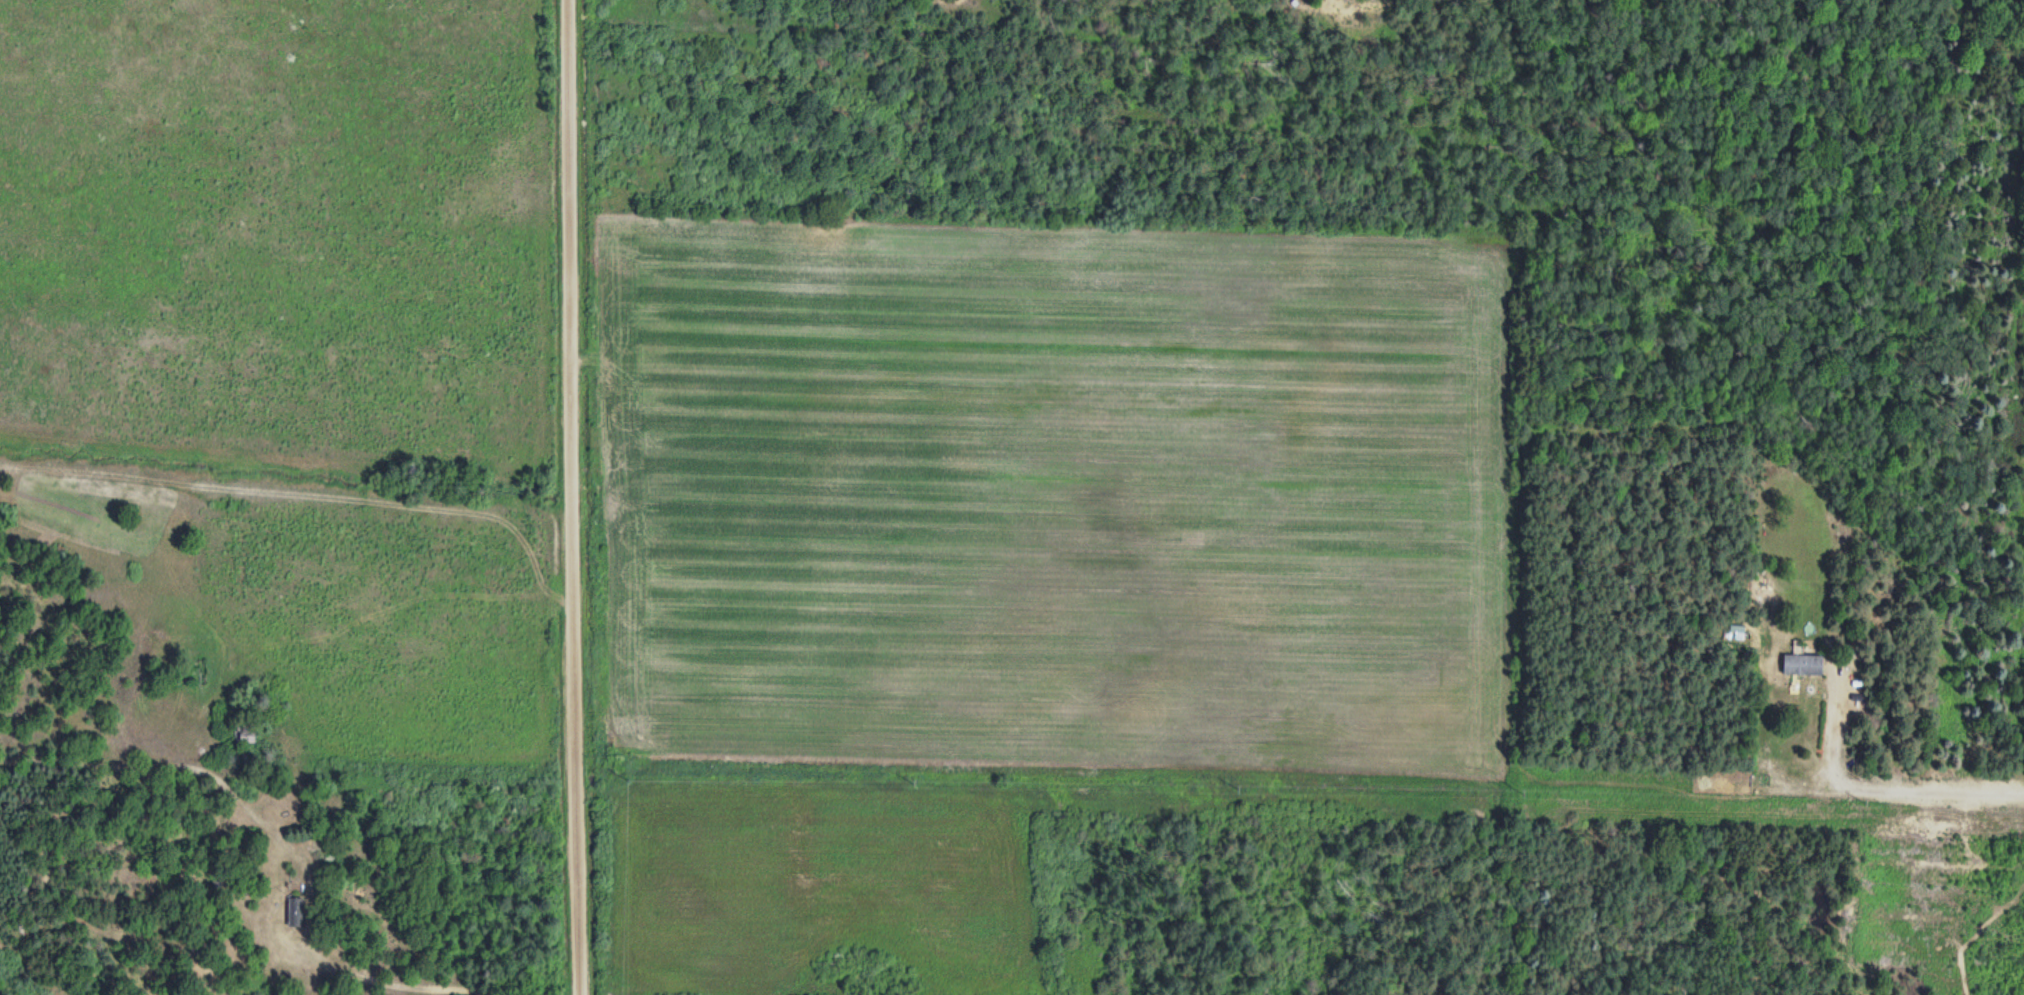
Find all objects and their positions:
road: (556, 497)
building: (1799, 666)
building: (243, 732)
road: (1836, 746)
building: (294, 909)

